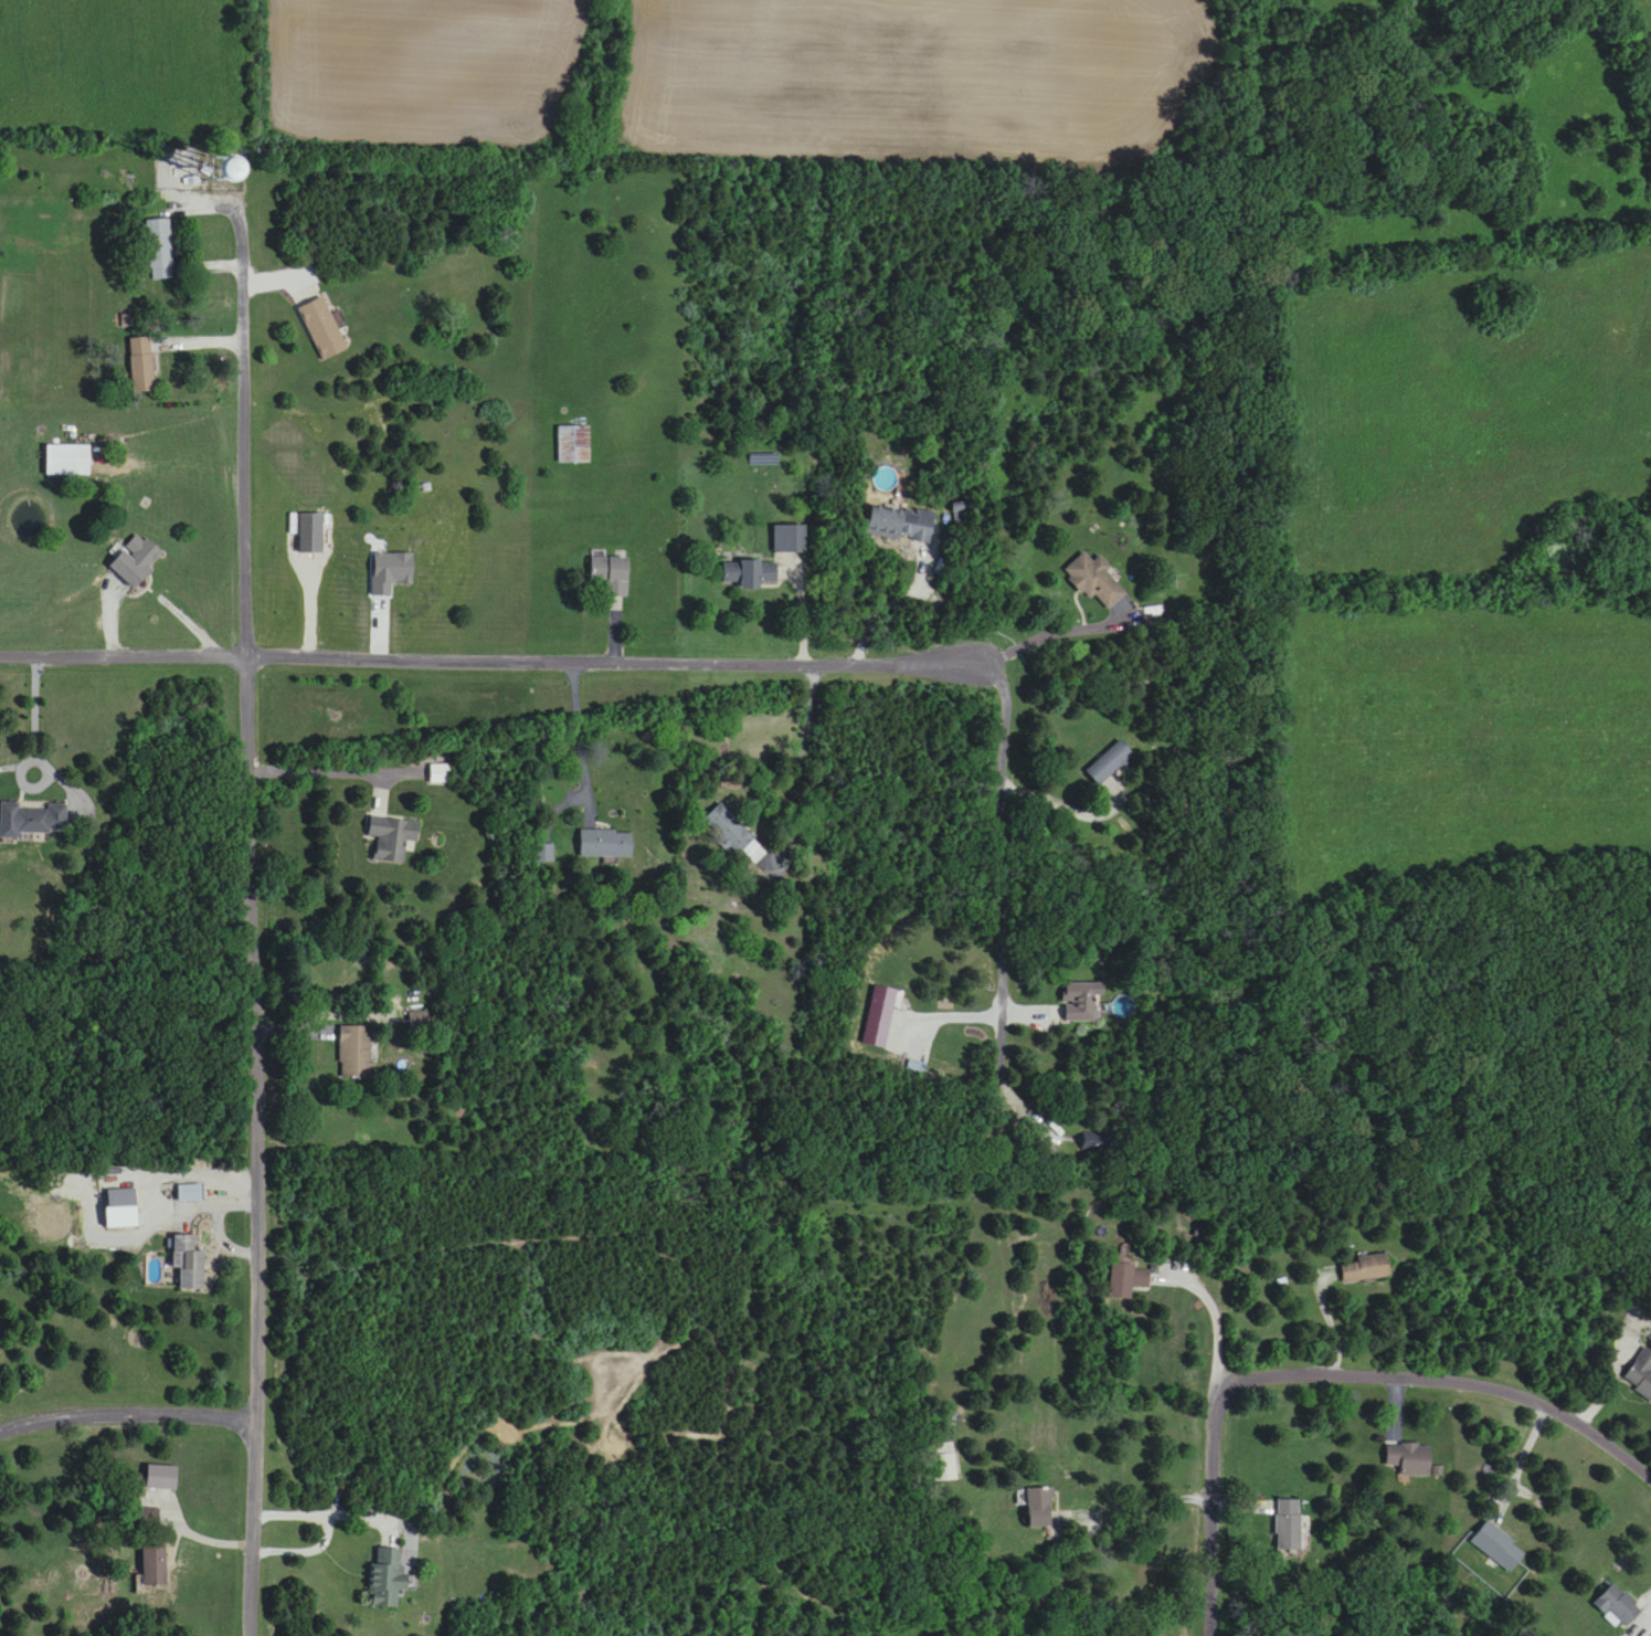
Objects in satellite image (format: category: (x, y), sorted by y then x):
water tower: (218, 170)
building: (214, 171)
building: (160, 249)
building: (322, 328)
building: (141, 365)
building: (573, 445)
building: (68, 461)
building: (900, 524)
building: (789, 539)
building: (136, 561)
building: (749, 574)
building: (611, 576)
building: (1096, 581)
road: (121, 585)
road: (889, 604)
road: (1058, 629)
road: (750, 665)
road: (32, 713)
road: (579, 733)
road: (803, 750)
building: (1110, 762)
road: (329, 772)
building: (440, 773)
road: (1077, 813)
building: (32, 817)
building: (732, 831)
building: (392, 836)
building: (605, 843)
building: (543, 854)
road: (255, 911)
building: (1081, 1001)
building: (356, 1052)
building: (190, 1192)
building: (121, 1197)
building: (189, 1264)
building: (1365, 1268)
building: (1128, 1278)
road: (1214, 1310)
building: (1641, 1374)
road: (1446, 1380)
road: (127, 1417)
road: (1214, 1437)
building: (1410, 1458)
building: (944, 1461)
road: (1522, 1463)
road: (1143, 1507)
building: (1040, 1508)
road: (328, 1513)
building: (1289, 1524)
building: (1499, 1547)
road: (1210, 1568)
building: (152, 1569)
building: (387, 1579)
building: (1619, 1607)
road: (972, 1614)

